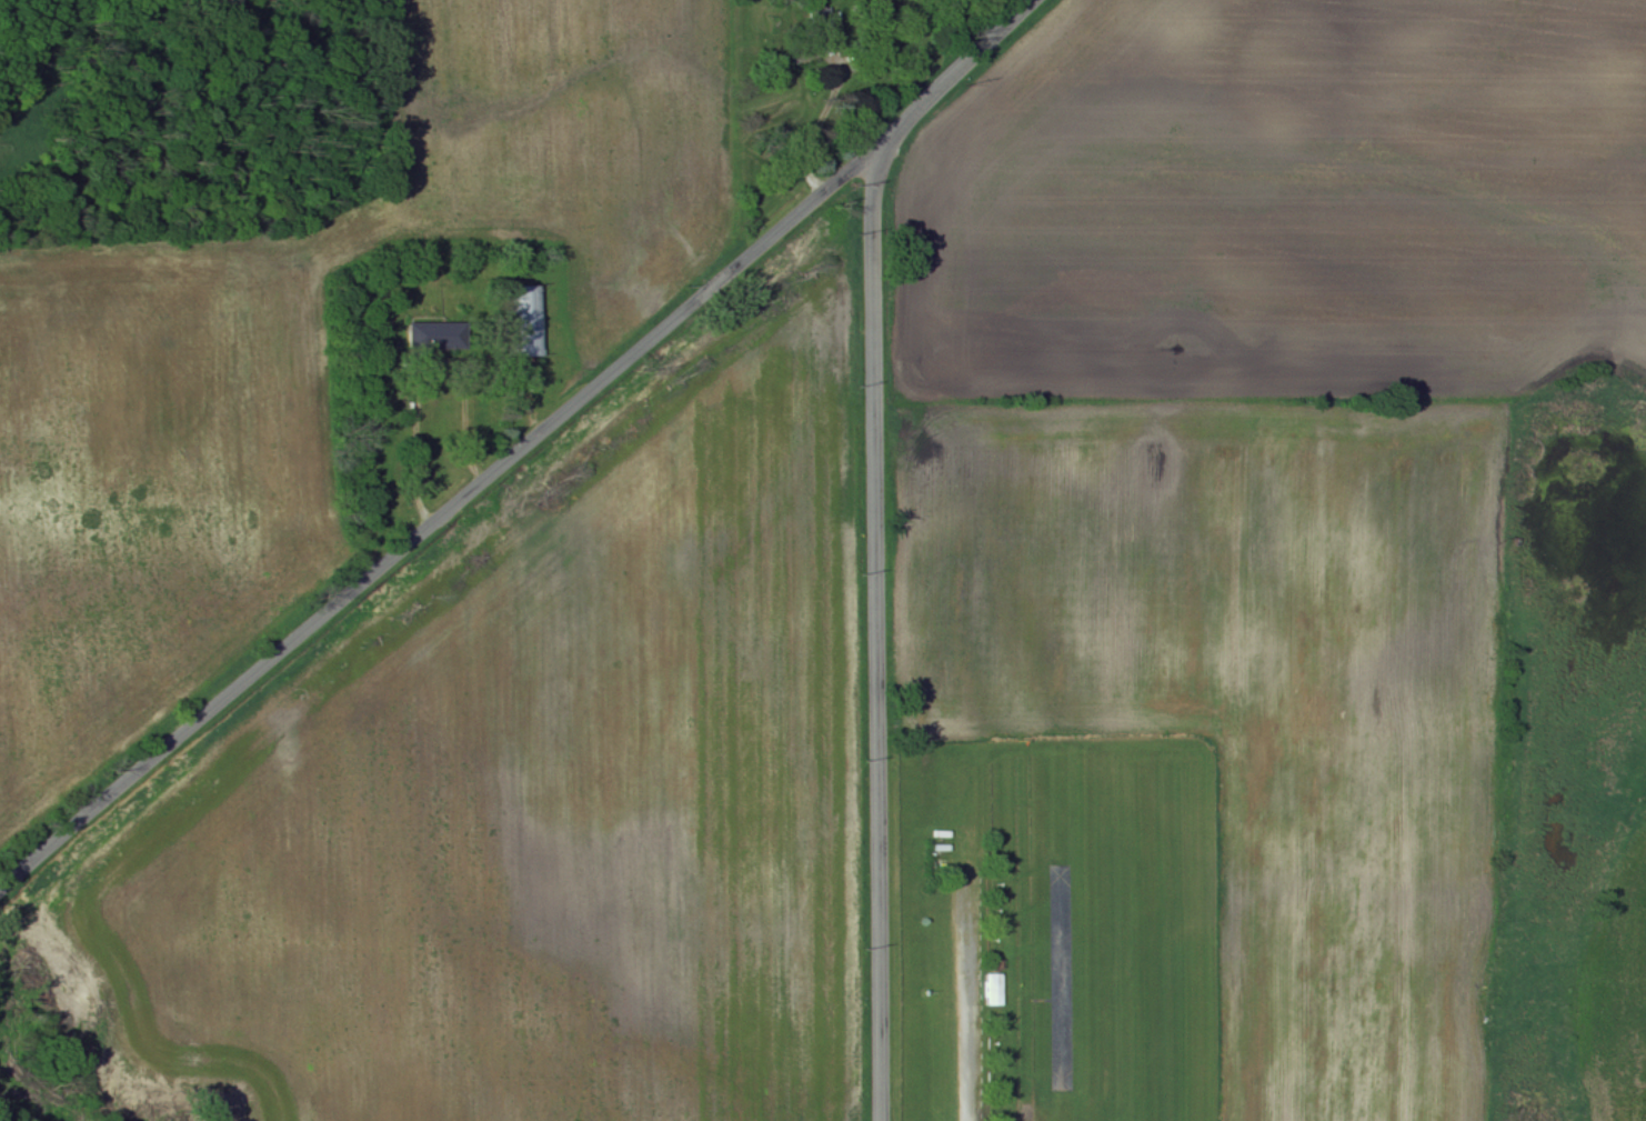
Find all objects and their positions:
road: (790, 140)
building: (531, 321)
building: (436, 337)
road: (425, 373)
road: (518, 440)
road: (880, 641)
building: (994, 991)
road: (964, 1062)

